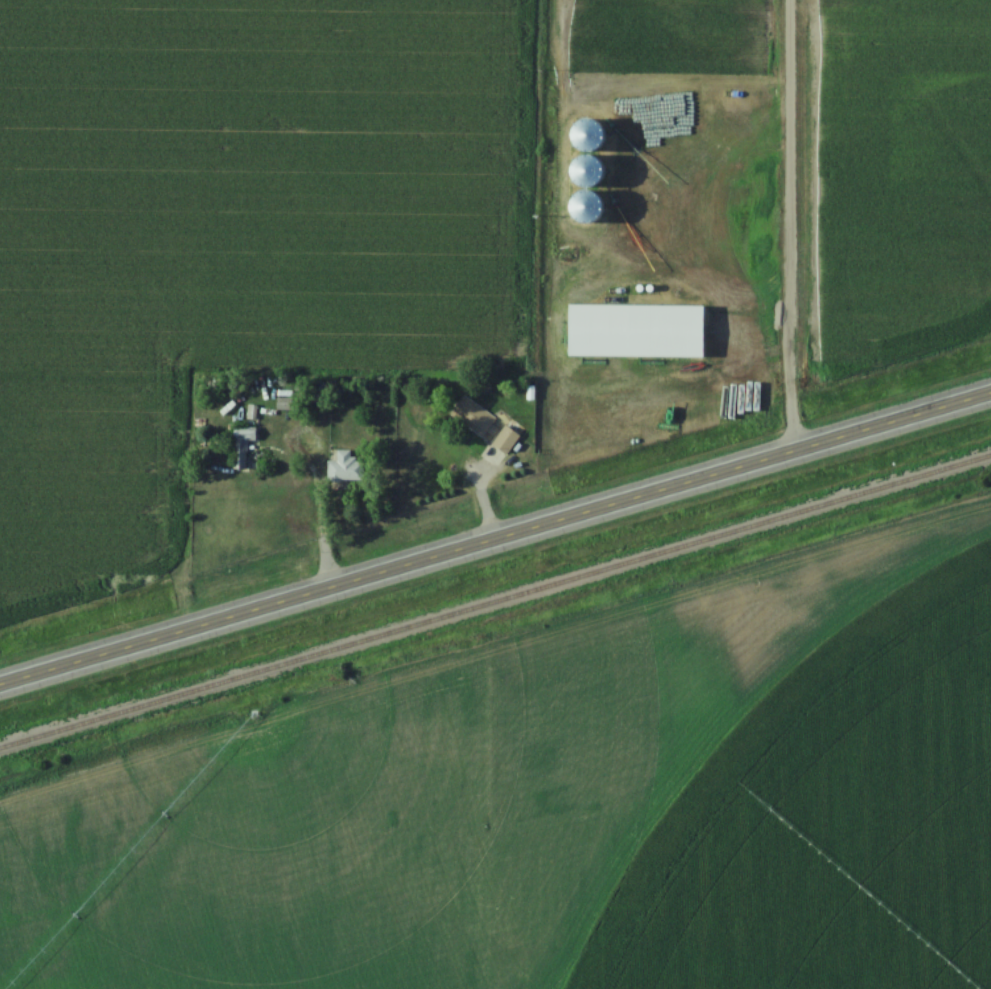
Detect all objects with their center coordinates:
building: (476, 420)
building: (506, 441)
building: (242, 447)
building: (345, 469)
road: (314, 526)
road: (495, 537)
railway: (495, 606)

